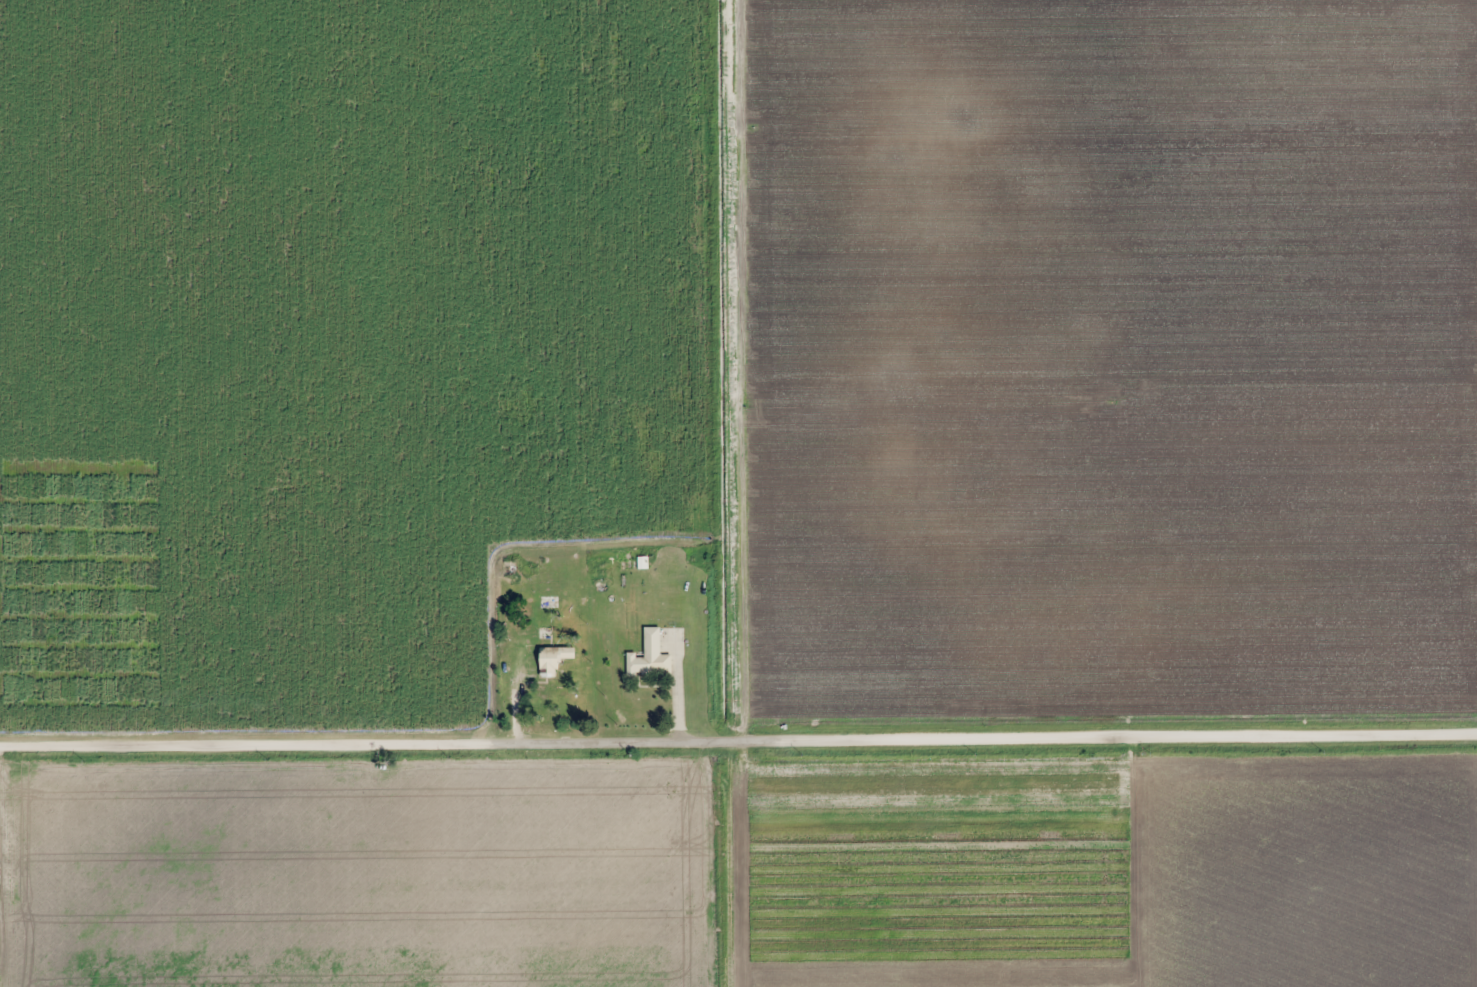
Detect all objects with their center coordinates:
building: (647, 653)
building: (553, 659)
road: (738, 736)

